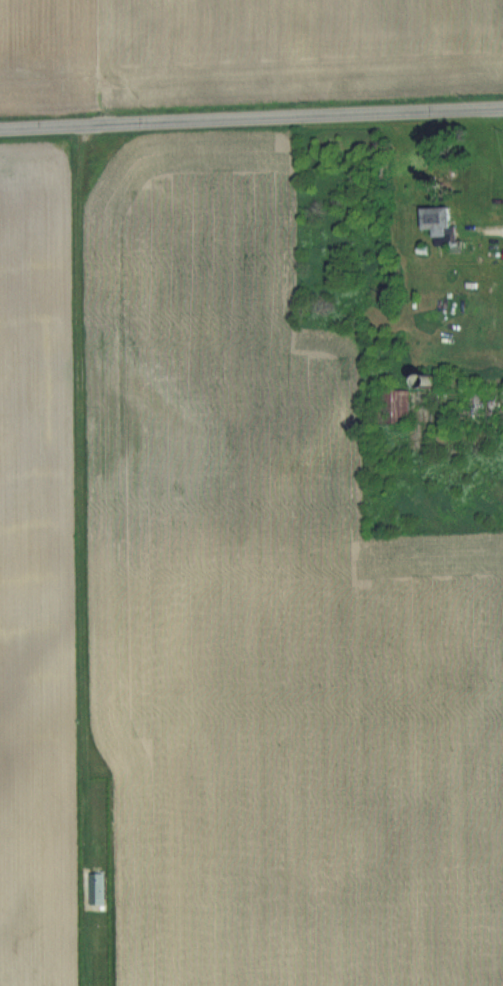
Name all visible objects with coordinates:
road: (251, 116)
building: (435, 224)
building: (93, 889)

